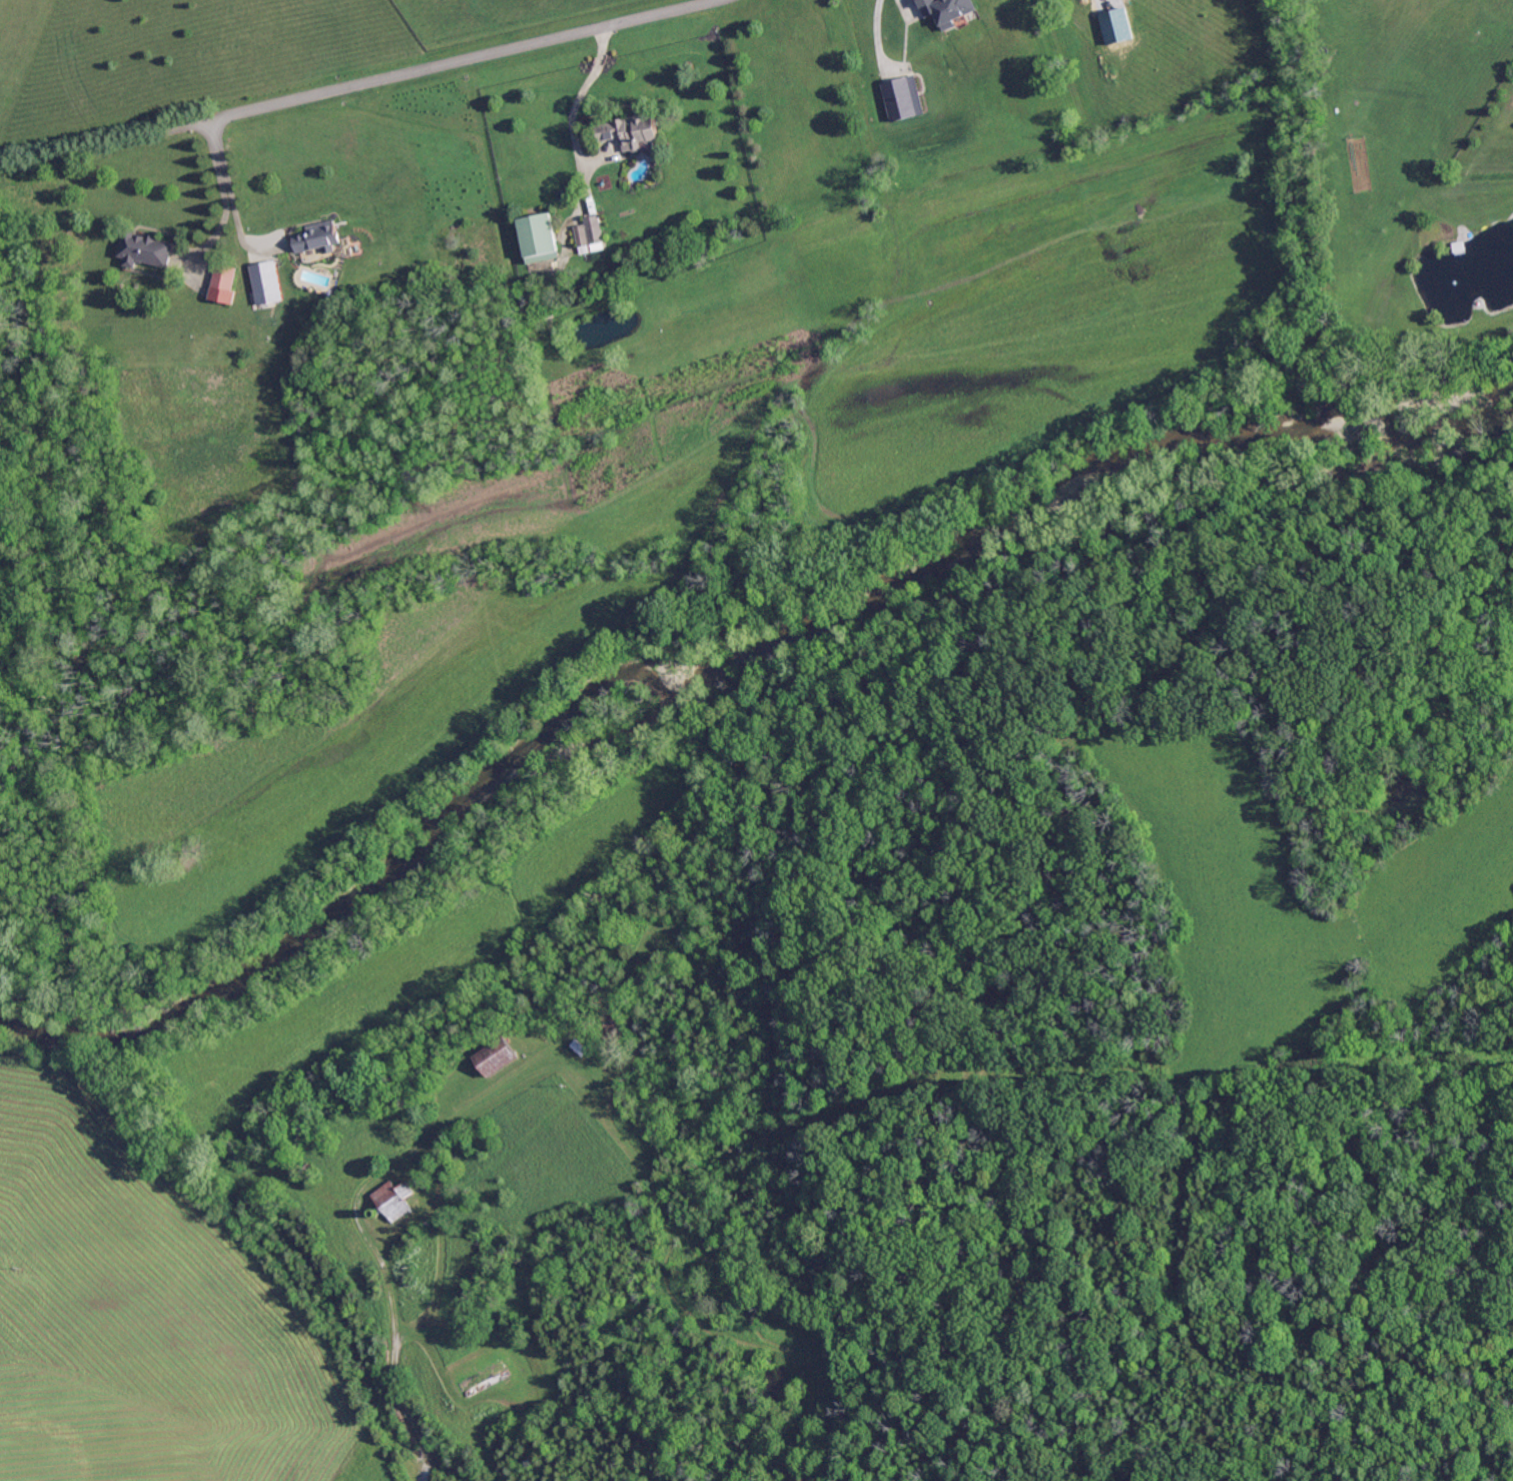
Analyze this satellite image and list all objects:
road: (905, 2)
building: (947, 12)
road: (440, 63)
road: (577, 95)
building: (902, 100)
building: (631, 133)
road: (222, 191)
road: (229, 198)
building: (591, 236)
building: (318, 238)
building: (541, 239)
building: (145, 250)
building: (262, 273)
building: (225, 278)
river: (726, 660)
building: (610, 952)
building: (617, 965)
building: (542, 1034)
building: (668, 1035)
building: (580, 1048)
building: (522, 1053)
building: (496, 1057)
building: (574, 1057)
building: (233, 1148)
building: (309, 1171)
building: (395, 1199)
building: (375, 1214)
building: (425, 1225)
building: (513, 1320)
road: (393, 1348)
building: (484, 1377)

